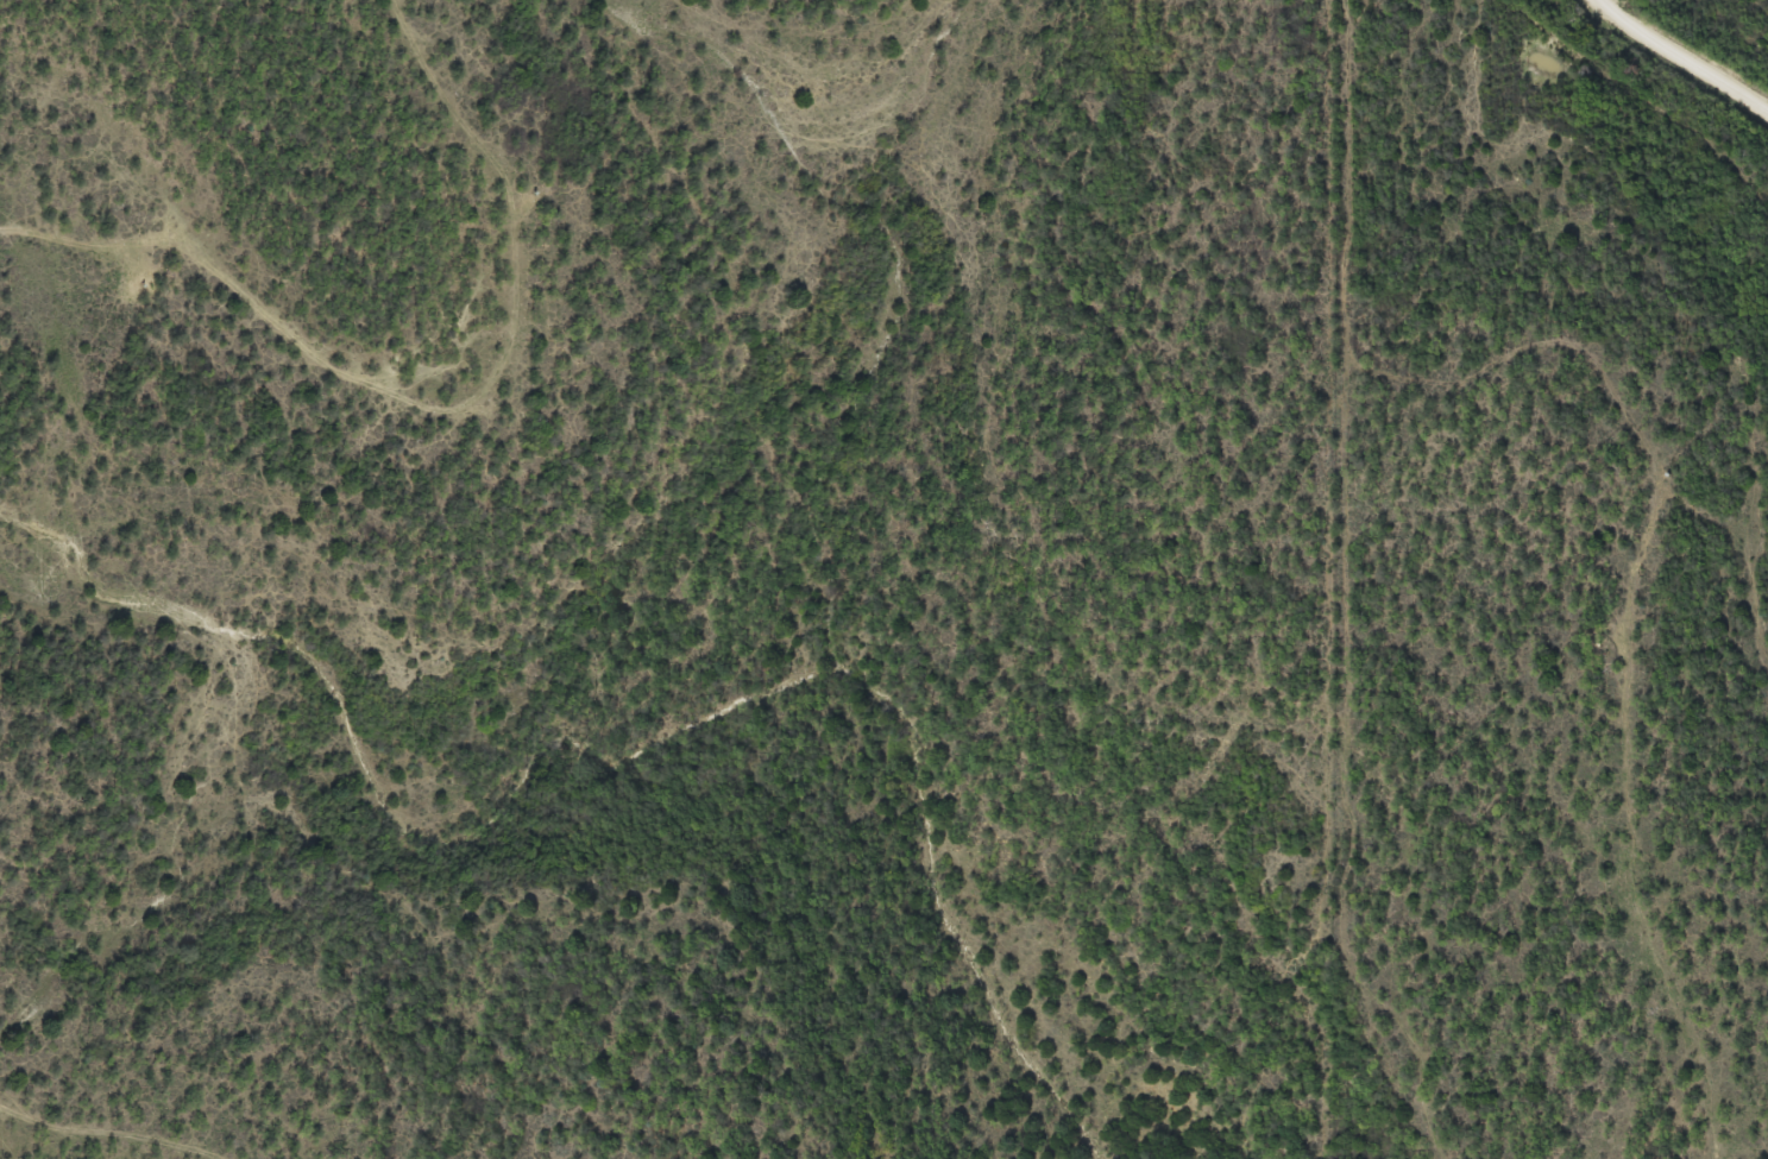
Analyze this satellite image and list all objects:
road: (1682, 59)

